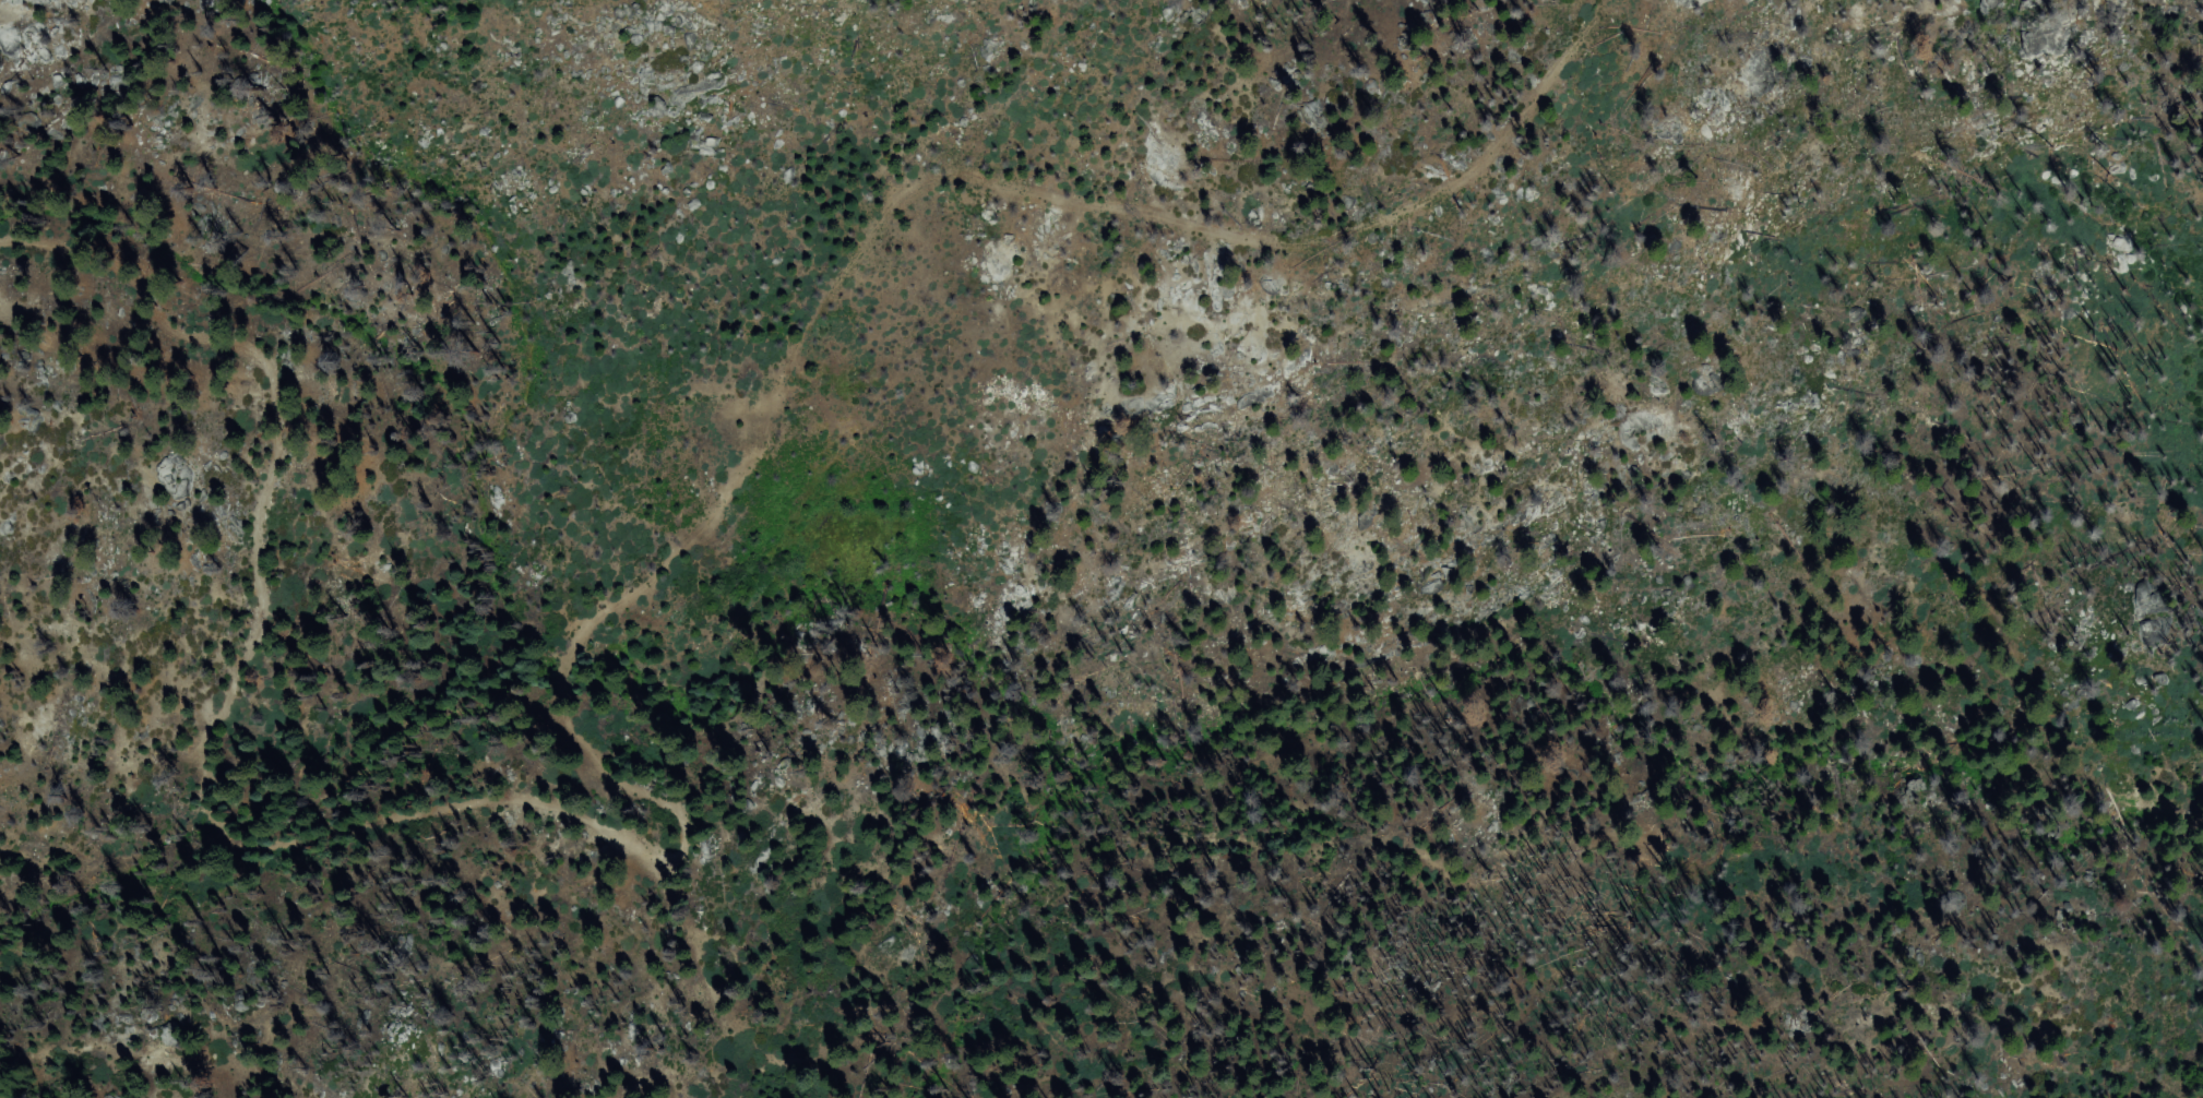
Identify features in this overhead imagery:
road: (297, 434)
road: (1180, 875)

